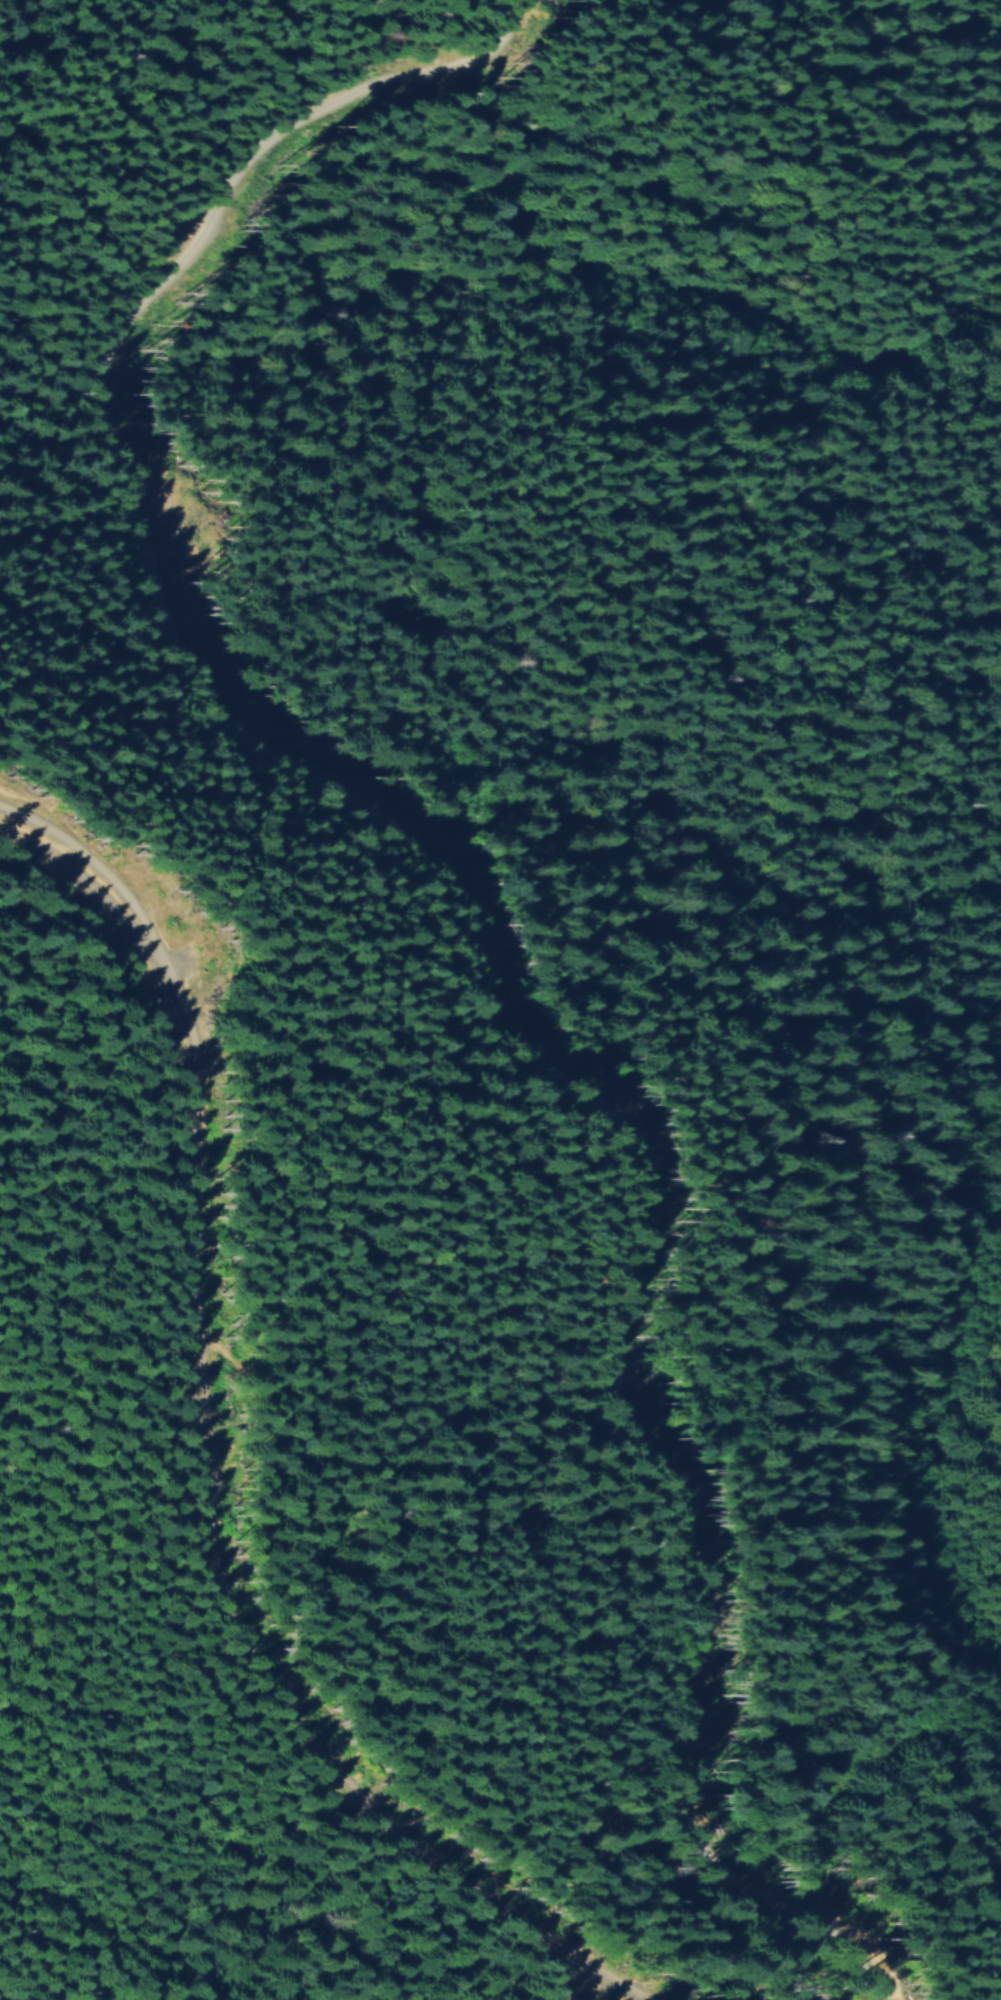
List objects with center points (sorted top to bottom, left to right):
road: (279, 965)

